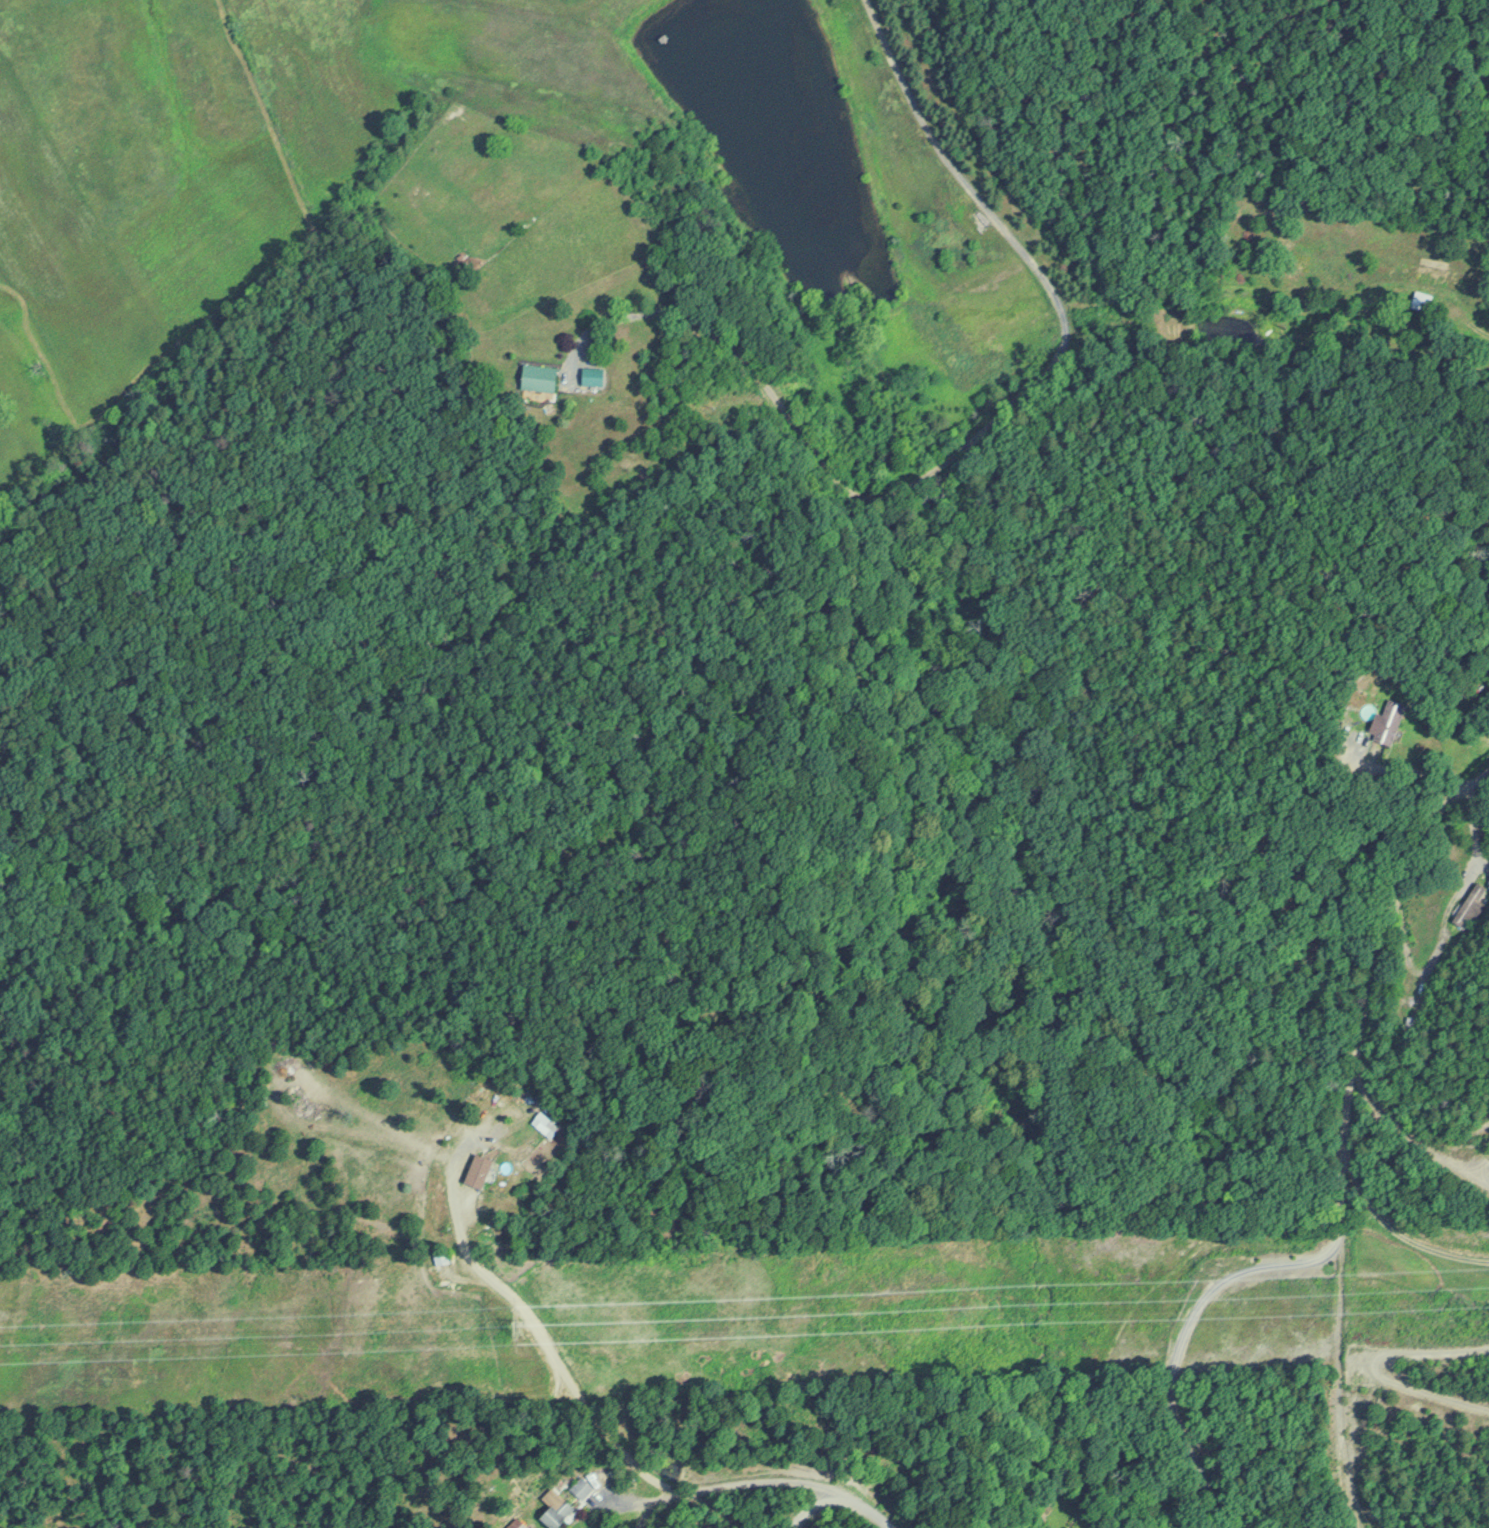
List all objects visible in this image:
dam: (551, 9)
building: (592, 374)
building: (539, 376)
road: (973, 434)
building: (1390, 720)
building: (1469, 904)
building: (502, 1104)
building: (546, 1123)
road: (1341, 1181)
power tower: (516, 1326)
road: (545, 1337)
road: (803, 1480)
building: (581, 1486)
road: (662, 1501)
road: (819, 1505)
building: (558, 1512)
building: (516, 1524)

